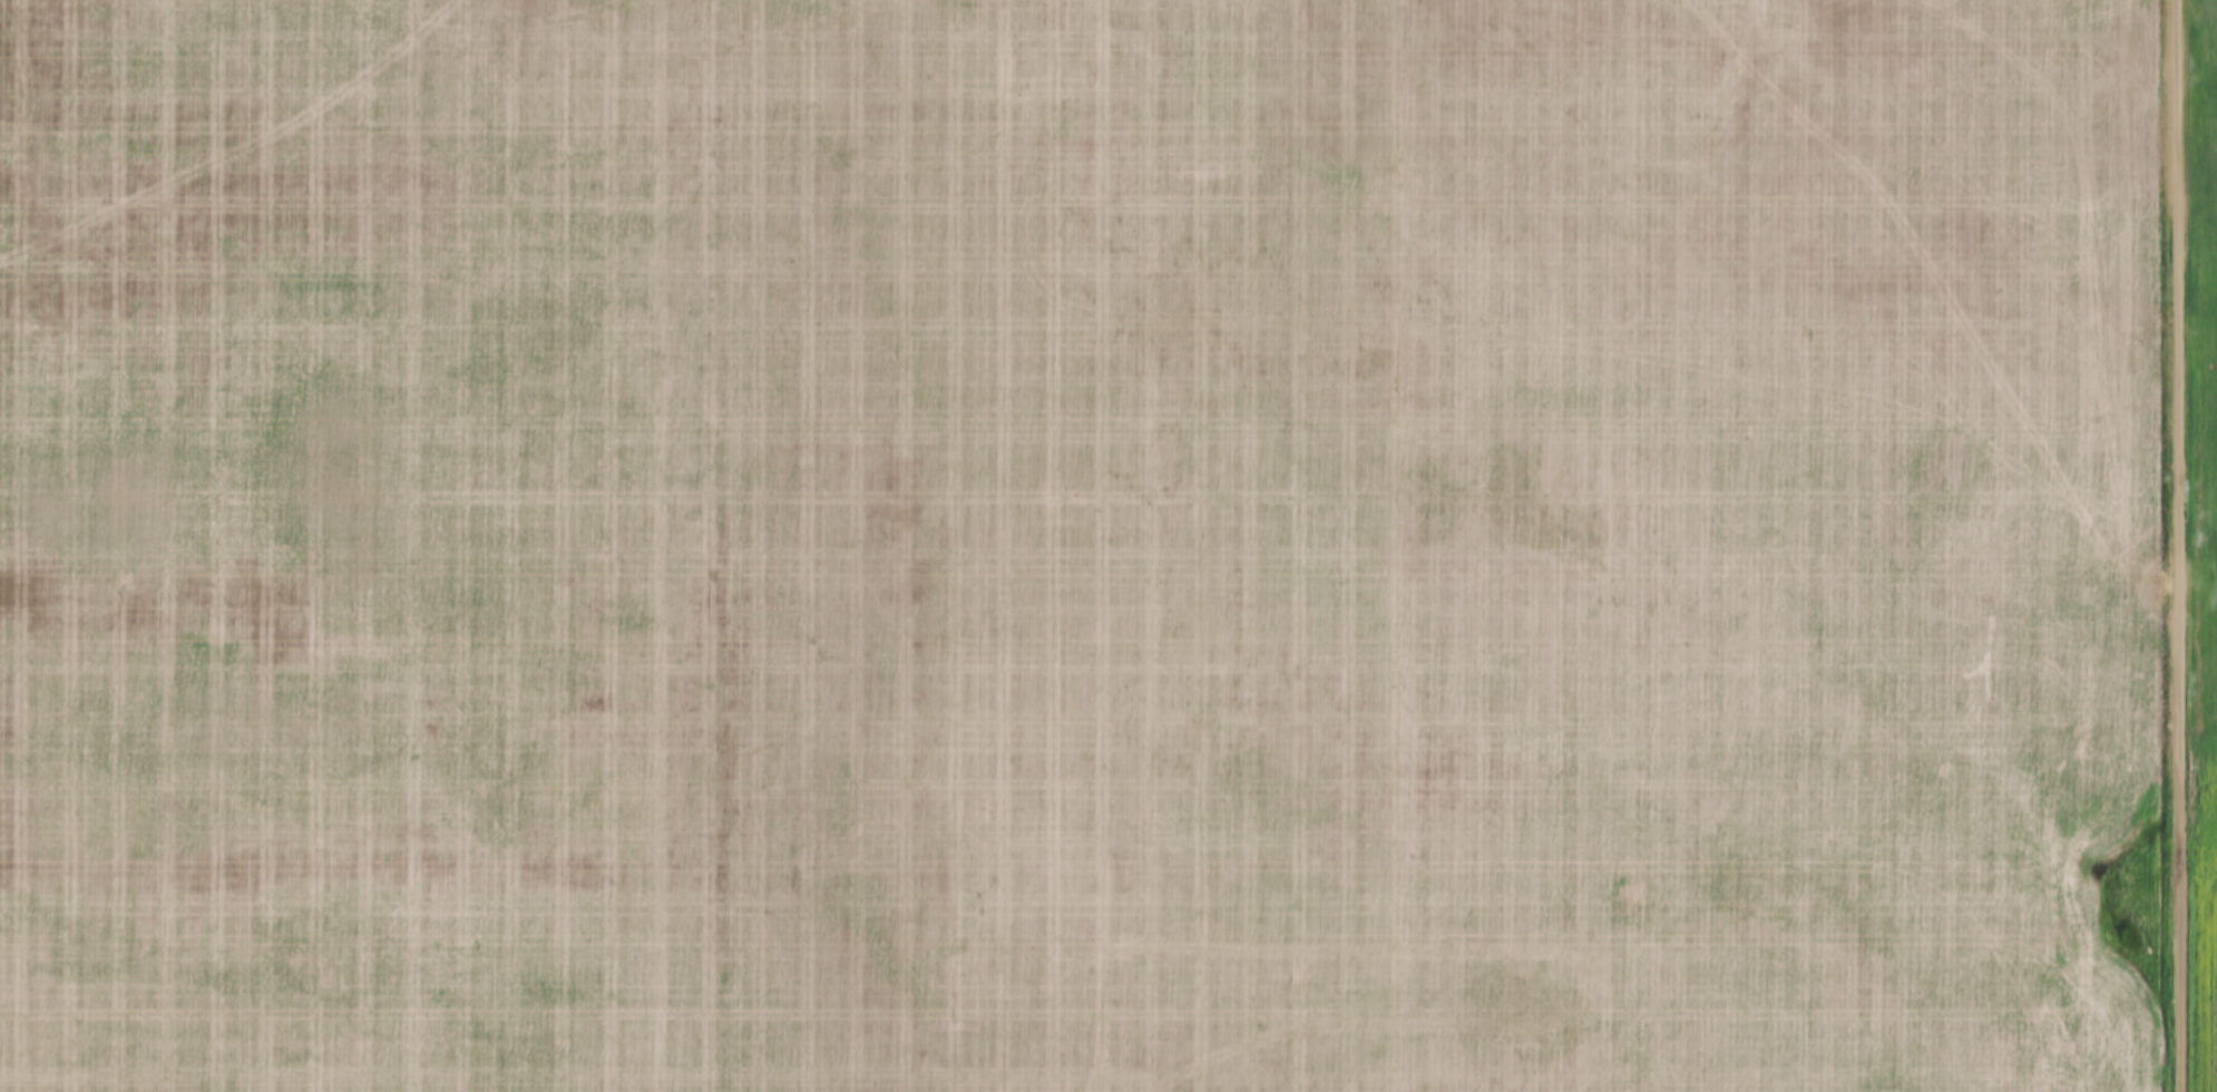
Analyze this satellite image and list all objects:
road: (2180, 546)

